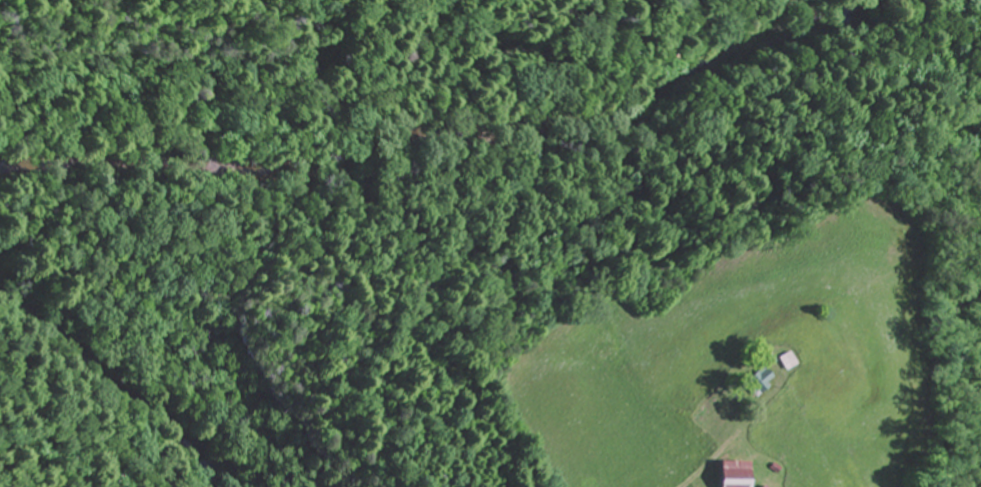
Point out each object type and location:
building: (755, 381)
building: (710, 415)
building: (732, 474)

